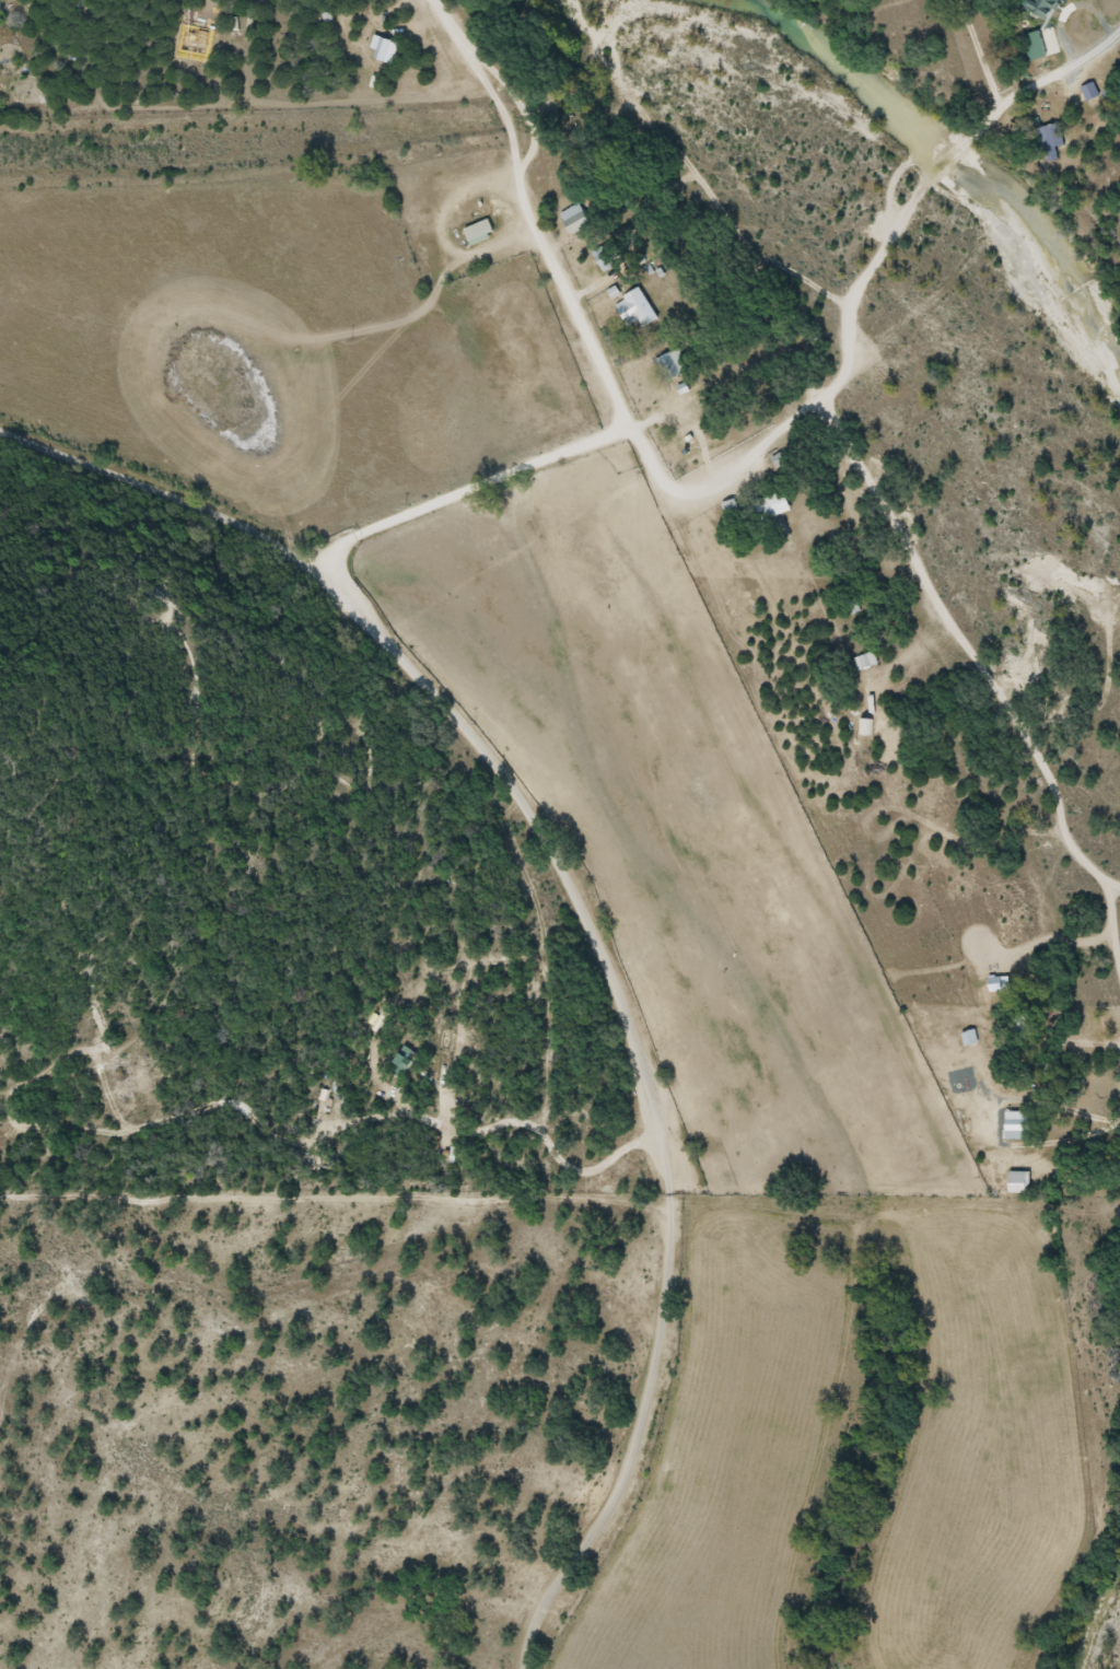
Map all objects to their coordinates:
building: (1045, 7)
building: (245, 27)
building: (1037, 45)
building: (1090, 91)
building: (1054, 135)
river: (954, 142)
building: (575, 218)
building: (479, 230)
building: (605, 258)
building: (639, 311)
building: (673, 364)
road: (463, 490)
road: (168, 495)
road: (692, 495)
building: (772, 504)
building: (731, 507)
building: (865, 660)
building: (1022, 1027)
building: (969, 1037)
road: (651, 1090)
building: (1019, 1181)
river: (1097, 1613)

